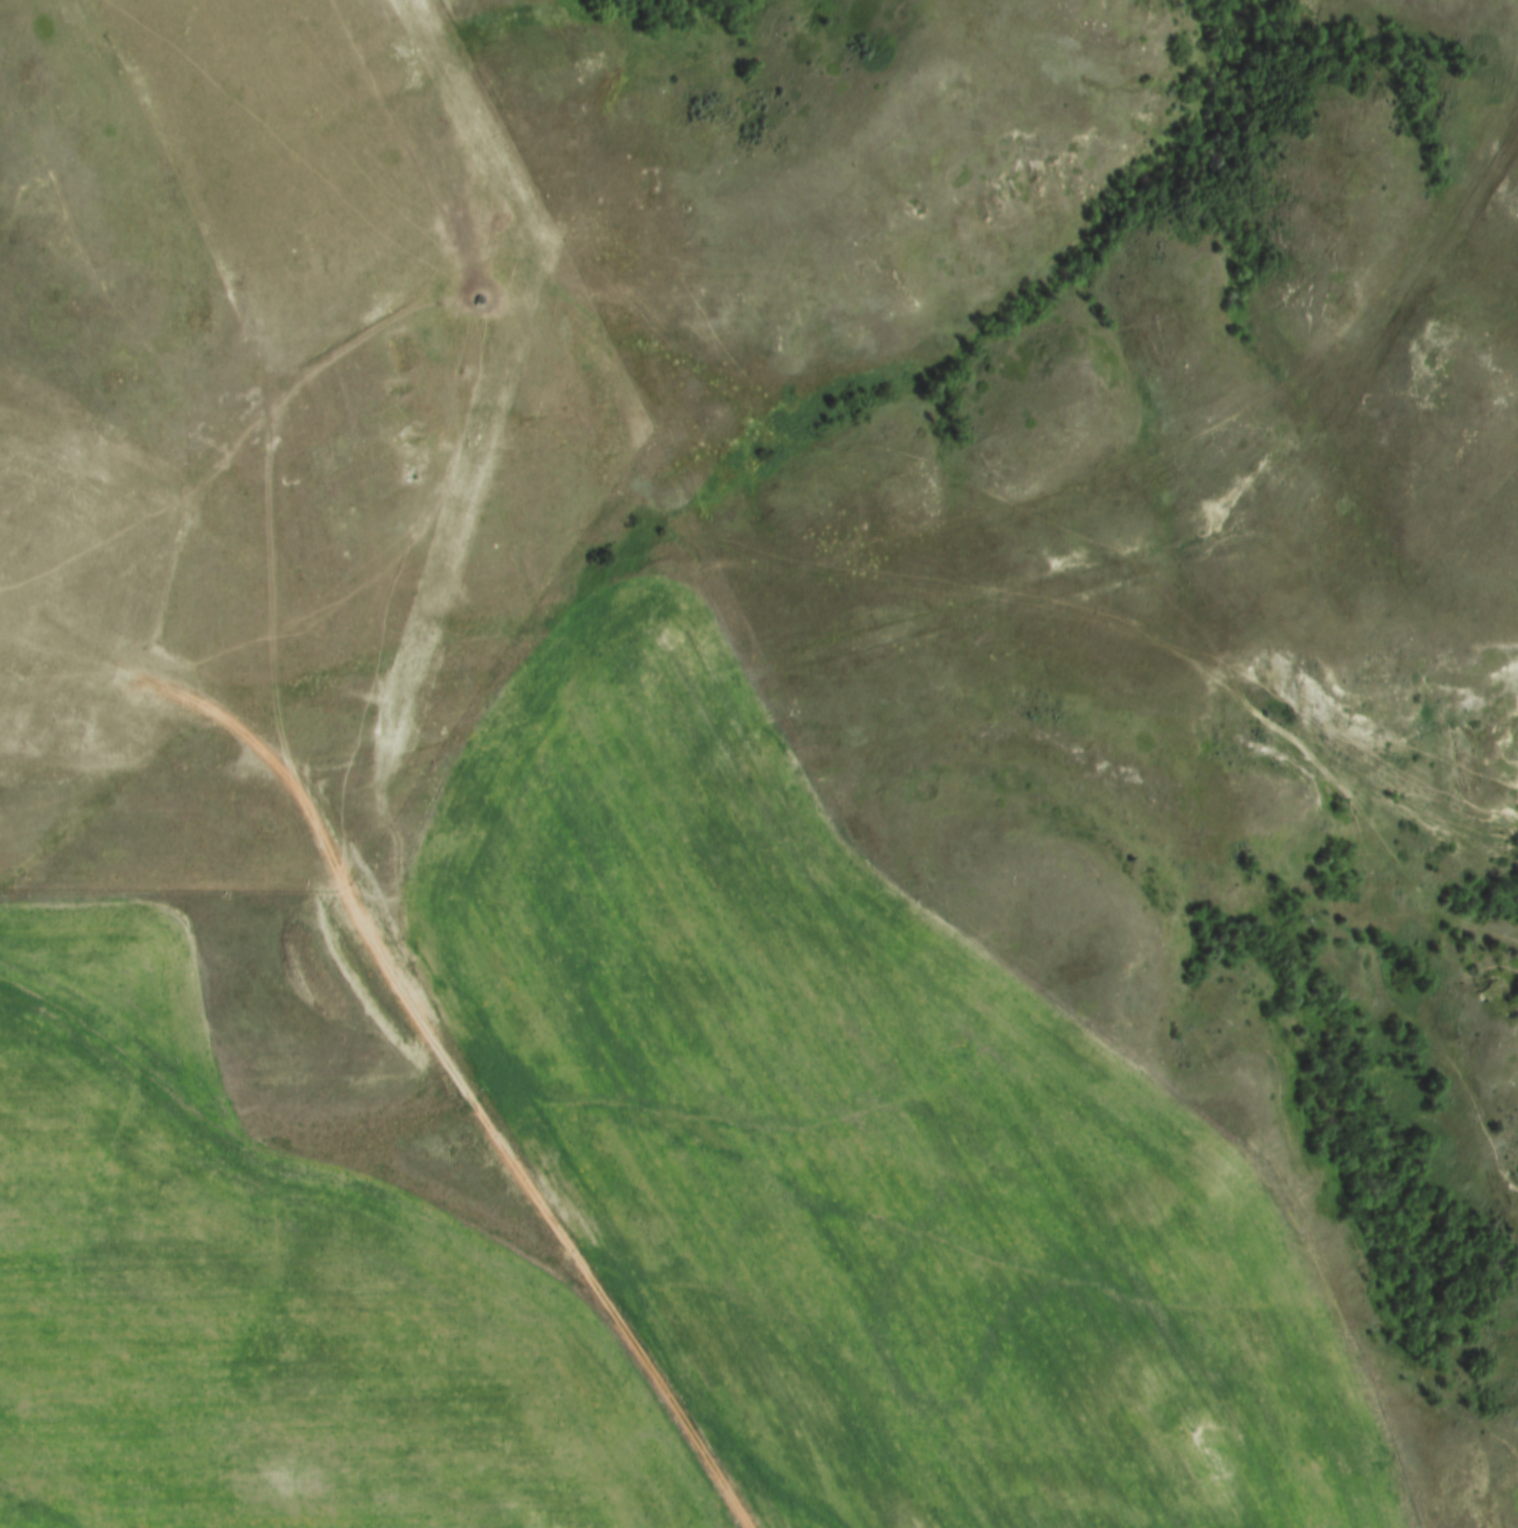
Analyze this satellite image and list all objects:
road: (883, 578)
road: (288, 775)
road: (562, 1240)

